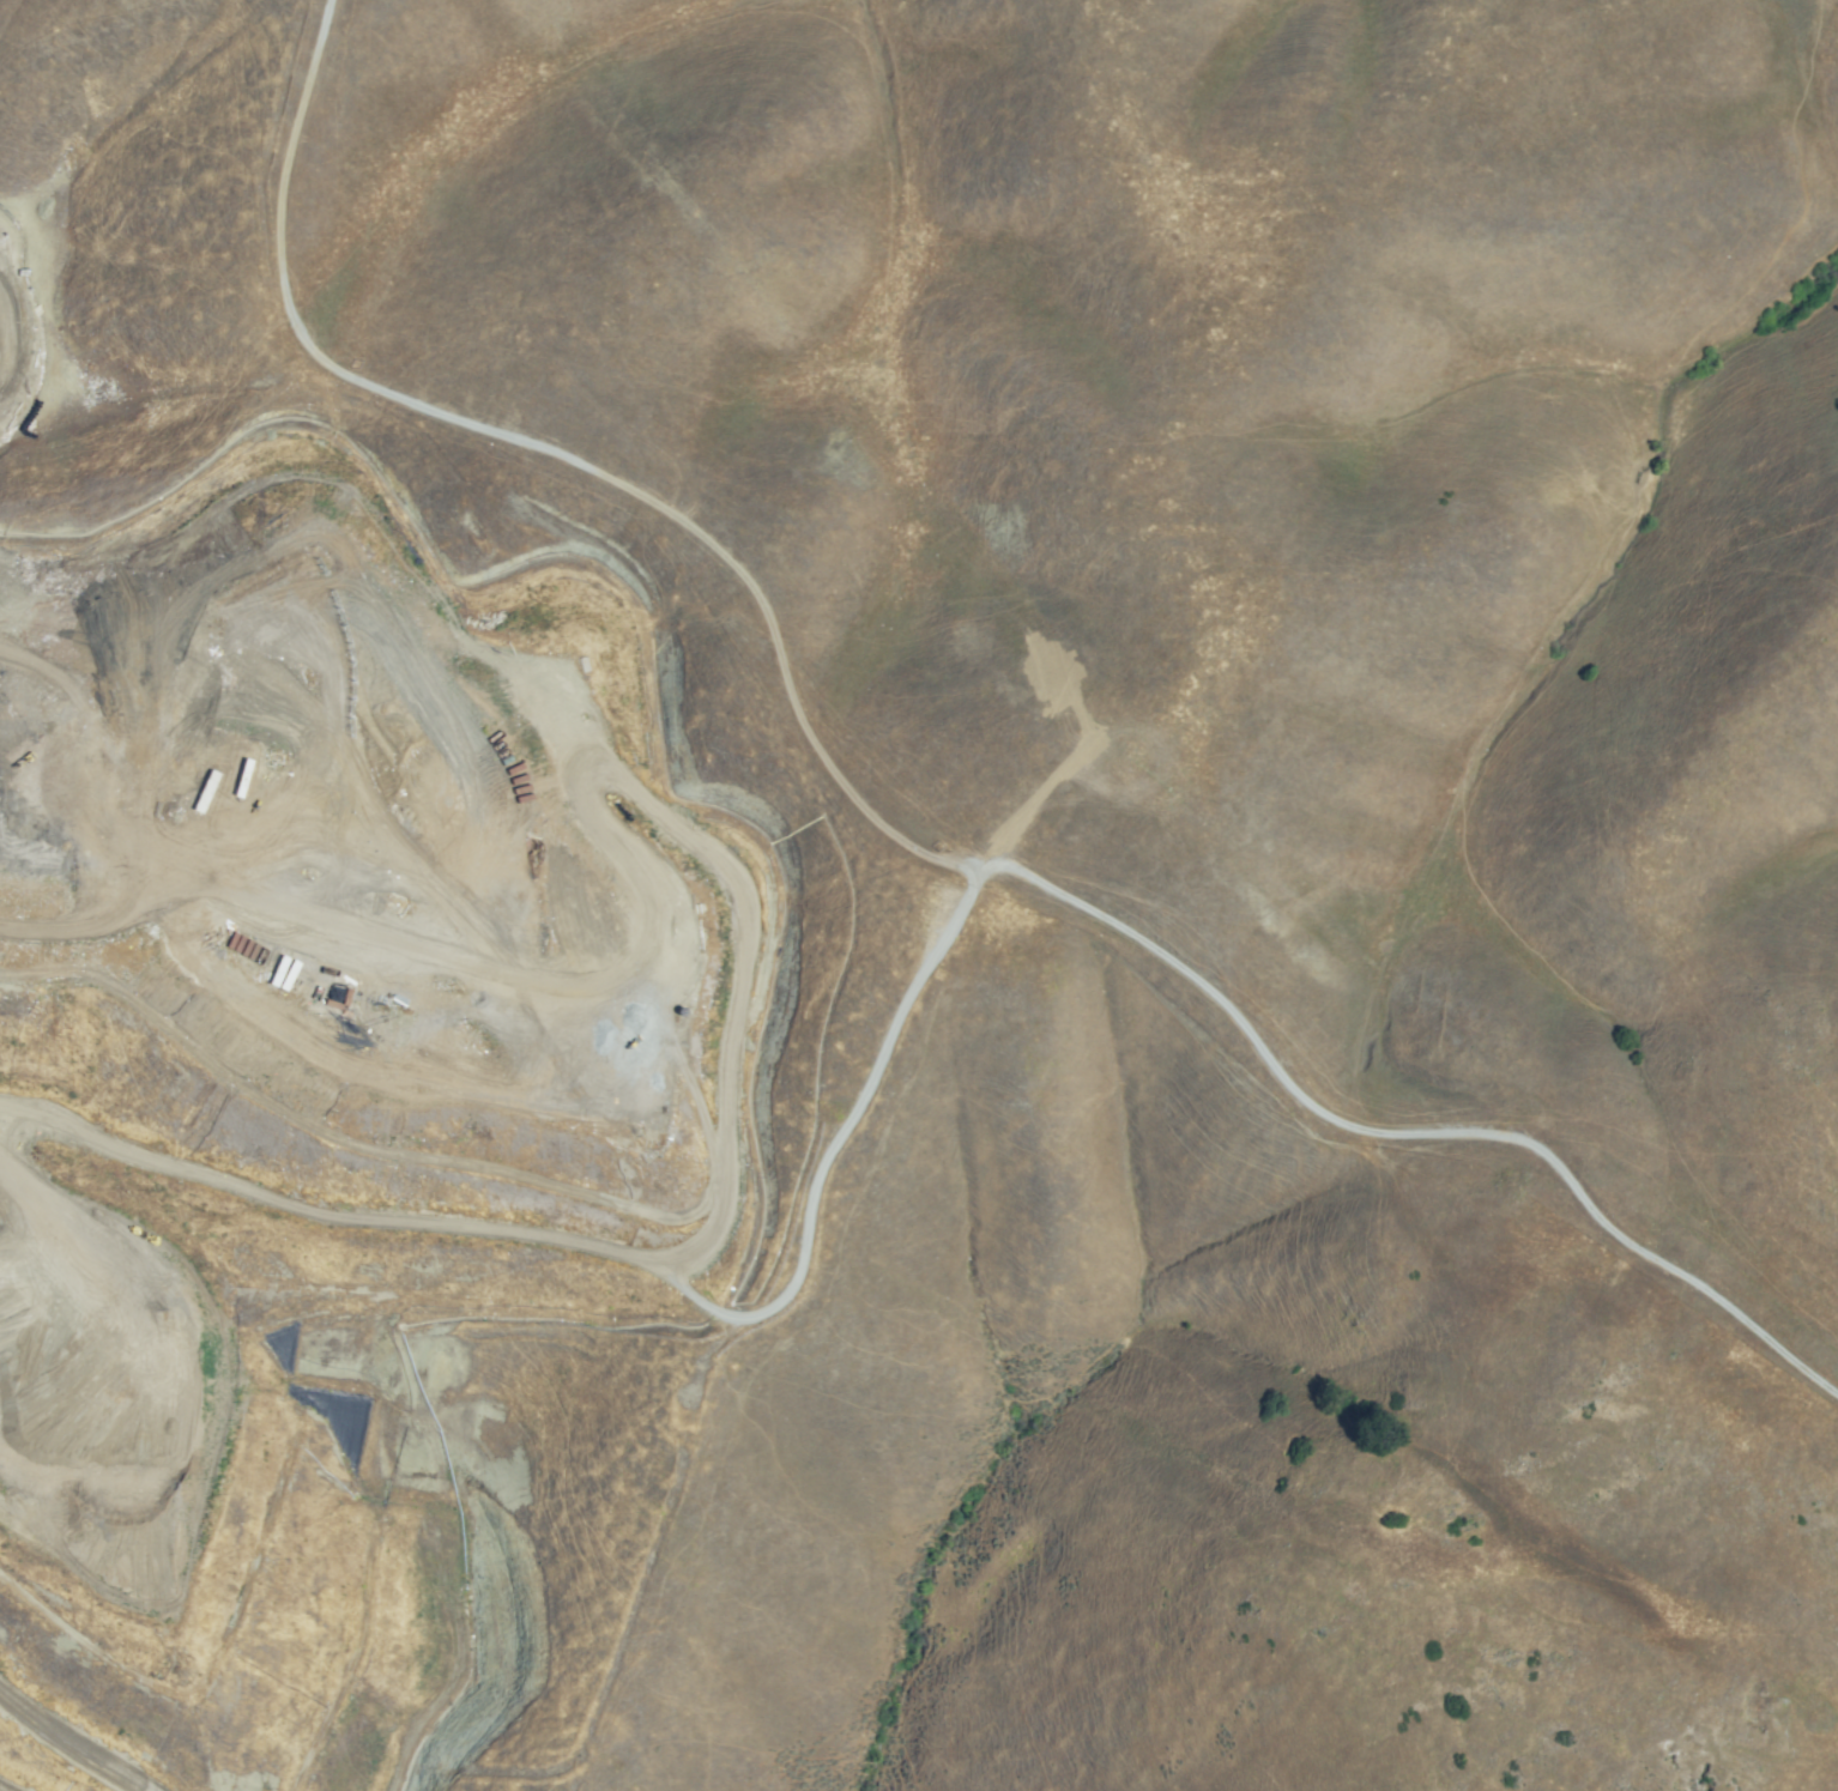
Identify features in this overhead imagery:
landfill: (13, 333)
landfill: (338, 1103)
road: (79, 1735)

